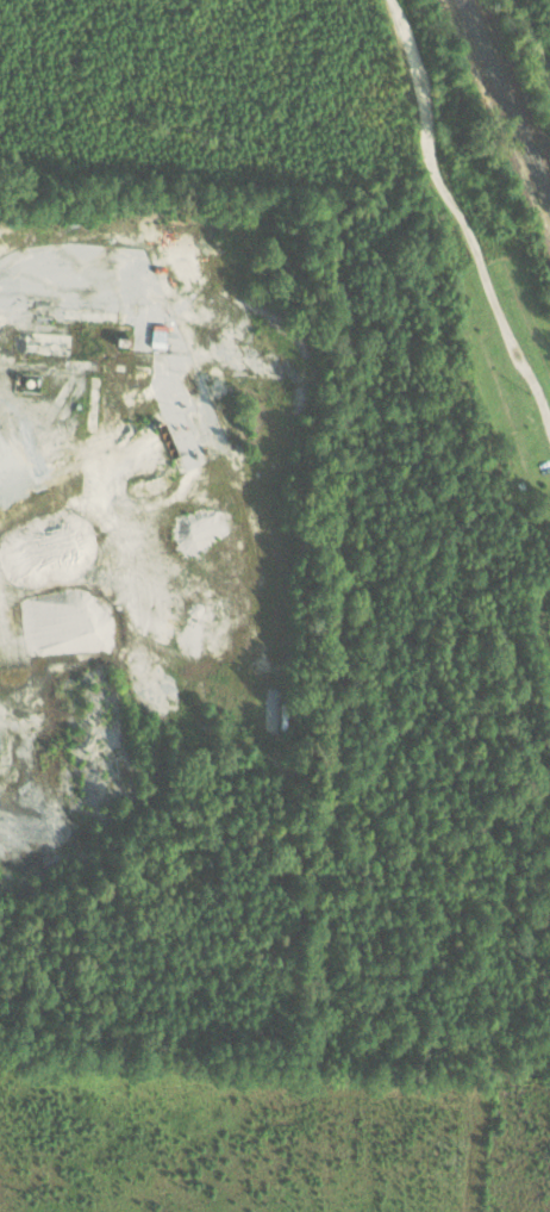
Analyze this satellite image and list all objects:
road: (533, 37)
railway: (506, 99)
road: (460, 218)

